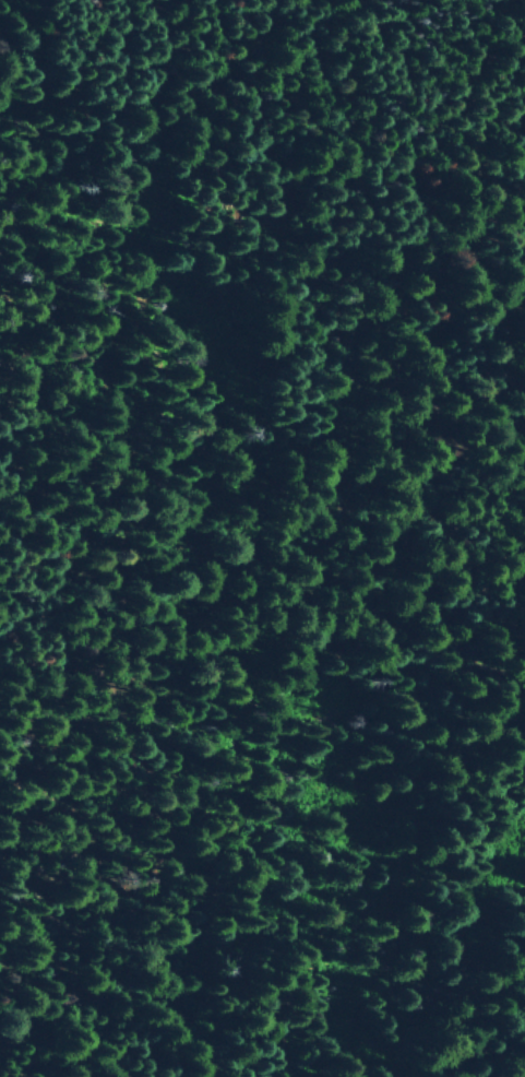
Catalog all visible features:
road: (139, 758)

